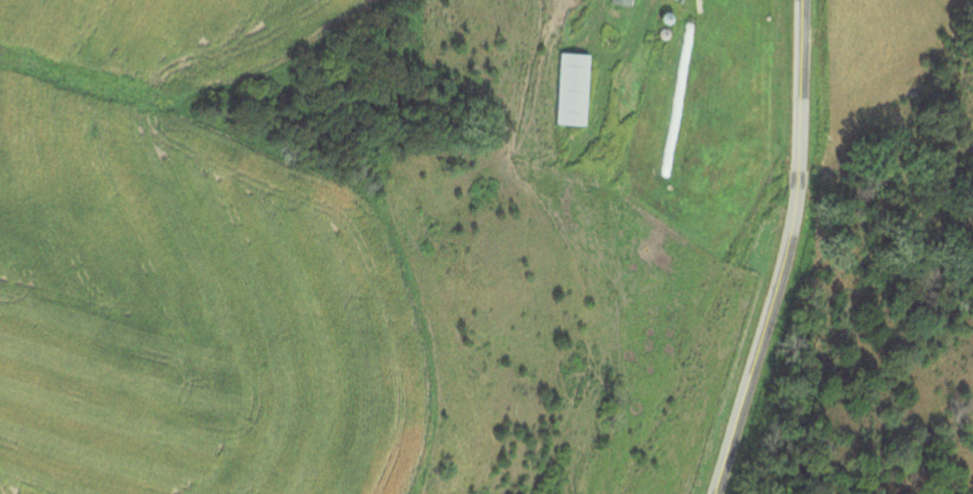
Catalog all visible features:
building: (618, 2)
building: (568, 89)
road: (785, 251)

